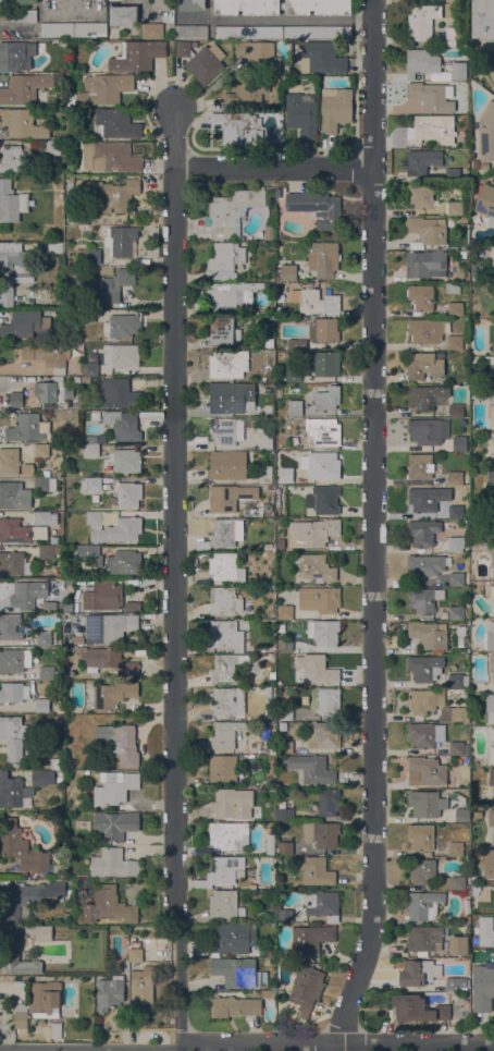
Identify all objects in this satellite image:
building: (1, 1)
building: (27, 2)
road: (74, 2)
building: (161, 4)
building: (193, 5)
building: (247, 7)
building: (318, 7)
building: (123, 15)
building: (17, 16)
building: (483, 19)
road: (283, 21)
building: (421, 22)
building: (57, 29)
building: (90, 29)
building: (152, 30)
building: (190, 30)
building: (282, 32)
building: (454, 37)
building: (195, 45)
building: (12, 54)
building: (137, 56)
building: (259, 56)
building: (321, 58)
building: (201, 60)
building: (422, 62)
building: (458, 71)
building: (491, 71)
building: (24, 88)
building: (104, 88)
building: (248, 93)
building: (432, 96)
building: (335, 109)
building: (301, 114)
building: (22, 123)
building: (115, 123)
building: (236, 127)
building: (431, 129)
building: (486, 132)
building: (52, 146)
building: (110, 157)
building: (15, 160)
building: (421, 161)
building: (476, 164)
road: (273, 168)
building: (453, 174)
building: (70, 185)
building: (279, 193)
building: (112, 195)
building: (420, 195)
building: (60, 196)
building: (485, 200)
building: (11, 201)
building: (454, 207)
building: (317, 208)
building: (233, 209)
building: (428, 229)
building: (269, 231)
building: (121, 241)
building: (59, 246)
building: (92, 254)
building: (462, 254)
building: (324, 258)
building: (225, 260)
building: (476, 264)
building: (425, 265)
building: (13, 269)
building: (286, 272)
building: (109, 285)
building: (255, 286)
building: (452, 289)
building: (226, 295)
building: (420, 297)
building: (314, 301)
building: (456, 308)
building: (480, 313)
building: (87, 316)
building: (24, 325)
building: (122, 326)
building: (323, 329)
building: (427, 330)
building: (493, 330)
building: (223, 331)
building: (269, 342)
building: (455, 342)
building: (297, 343)
building: (122, 355)
building: (285, 355)
building: (47, 356)
building: (227, 363)
building: (323, 363)
building: (423, 365)
building: (493, 365)
building: (90, 369)
building: (294, 375)
building: (86, 380)
building: (492, 383)
building: (51, 390)
building: (119, 393)
building: (231, 396)
building: (425, 396)
building: (15, 399)
building: (328, 399)
building: (295, 407)
building: (456, 411)
building: (264, 412)
building: (491, 413)
building: (123, 425)
building: (28, 428)
building: (225, 430)
building: (323, 431)
building: (429, 431)
building: (264, 436)
building: (90, 439)
building: (493, 441)
building: (459, 443)
building: (41, 450)
building: (91, 451)
building: (9, 461)
building: (123, 462)
building: (227, 465)
building: (321, 465)
building: (420, 466)
building: (46, 474)
building: (265, 475)
building: (286, 475)
building: (491, 476)
building: (456, 478)
building: (91, 484)
building: (41, 485)
building: (271, 488)
building: (277, 490)
building: (308, 490)
building: (14, 496)
building: (129, 496)
building: (230, 497)
building: (277, 498)
building: (425, 499)
building: (323, 500)
building: (277, 503)
building: (456, 512)
building: (45, 518)
building: (94, 518)
road: (375, 529)
building: (14, 530)
building: (119, 530)
building: (423, 531)
building: (455, 531)
building: (314, 533)
building: (223, 534)
building: (280, 545)
building: (456, 545)
building: (271, 547)
building: (49, 551)
building: (88, 554)
building: (493, 561)
building: (124, 562)
building: (14, 563)
building: (427, 565)
building: (223, 566)
building: (314, 567)
road: (175, 577)
building: (456, 578)
building: (269, 579)
building: (69, 583)
building: (491, 591)
building: (27, 594)
building: (103, 596)
building: (320, 599)
building: (423, 599)
building: (224, 600)
building: (50, 604)
building: (69, 607)
building: (132, 607)
building: (493, 607)
building: (285, 612)
building: (272, 613)
building: (455, 613)
building: (10, 626)
building: (109, 626)
building: (323, 632)
building: (429, 634)
building: (225, 635)
building: (44, 637)
building: (490, 637)
building: (77, 641)
building: (285, 646)
building: (14, 660)
building: (108, 661)
building: (492, 663)
building: (226, 667)
building: (425, 668)
building: (317, 670)
building: (47, 672)
building: (59, 674)
building: (457, 680)
building: (263, 682)
building: (13, 692)
building: (111, 695)
building: (226, 700)
building: (425, 700)
building: (330, 701)
building: (41, 705)
building: (490, 706)
building: (60, 709)
building: (285, 712)
building: (444, 713)
building: (457, 713)
building: (58, 719)
building: (226, 733)
building: (425, 734)
building: (324, 735)
building: (13, 738)
building: (120, 742)
building: (491, 746)
building: (285, 747)
building: (457, 748)
building: (268, 750)
building: (57, 763)
building: (223, 768)
building: (310, 768)
building: (428, 770)
building: (41, 778)
building: (492, 778)
building: (473, 779)
building: (59, 780)
building: (268, 782)
building: (114, 787)
building: (12, 791)
building: (329, 802)
building: (223, 803)
building: (425, 804)
building: (460, 814)
building: (284, 815)
building: (239, 819)
building: (491, 821)
building: (115, 824)
building: (321, 834)
building: (227, 835)
building: (421, 836)
building: (270, 843)
building: (21, 846)
building: (285, 848)
building: (455, 848)
building: (113, 864)
building: (487, 865)
building: (58, 870)
building: (314, 870)
building: (421, 870)
building: (223, 871)
building: (452, 882)
building: (252, 885)
building: (473, 892)
building: (28, 897)
building: (322, 903)
building: (225, 904)
building: (423, 905)
building: (109, 906)
building: (285, 915)
building: (485, 931)
building: (44, 933)
building: (231, 938)
building: (424, 938)
building: (309, 939)
building: (136, 944)
building: (458, 945)
building: (271, 951)
building: (15, 955)
building: (135, 955)
building: (238, 971)
building: (418, 973)
building: (454, 983)
building: (143, 986)
building: (483, 987)
building: (283, 989)
building: (306, 989)
building: (110, 992)
building: (268, 994)
building: (44, 999)
building: (235, 1006)
building: (417, 1009)
building: (21, 1015)
building: (55, 1030)
road: (246, 1044)
road: (143, 1050)

